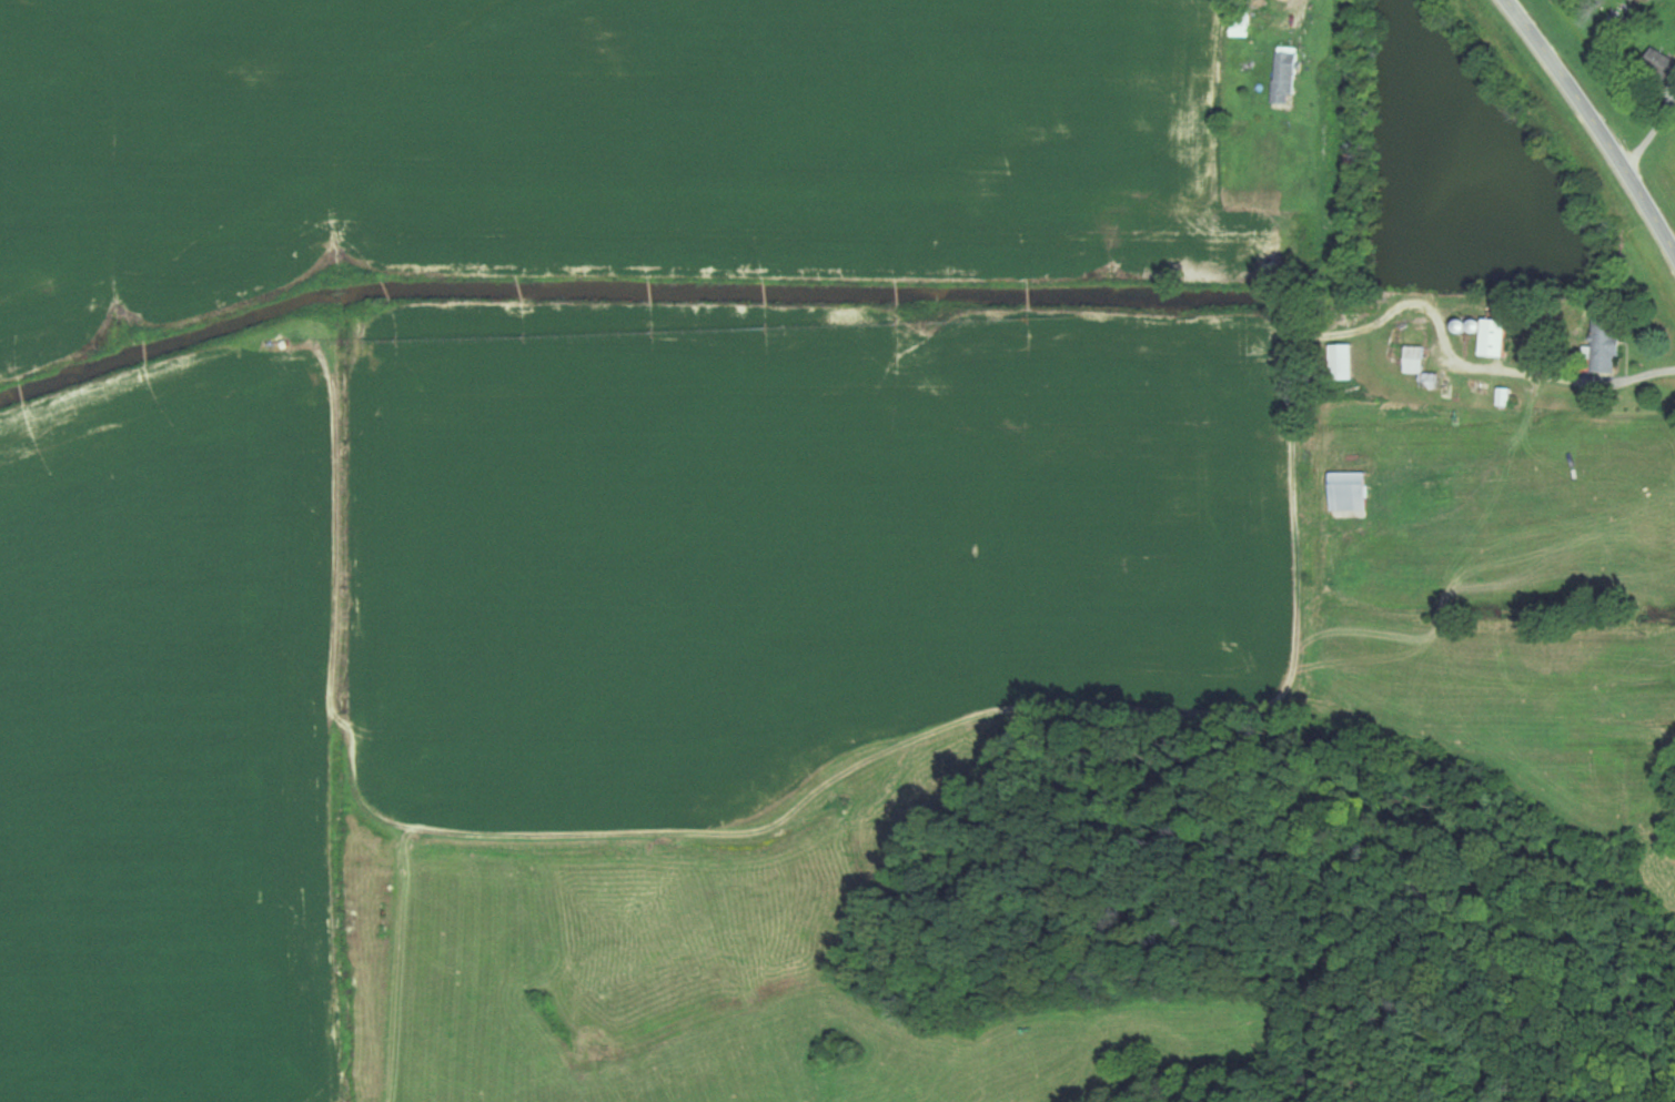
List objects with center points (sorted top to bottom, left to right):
building: (1241, 19)
building: (1661, 63)
building: (1285, 77)
road: (1598, 121)
building: (1495, 337)
building: (1415, 340)
building: (1605, 344)
building: (1343, 362)
building: (1433, 382)
building: (1349, 489)

